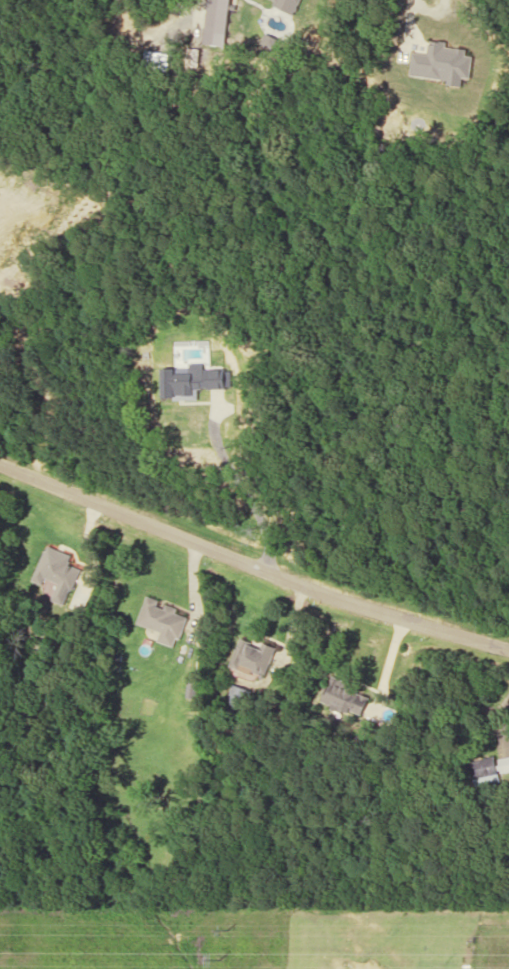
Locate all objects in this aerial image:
building: (287, 5)
building: (216, 22)
building: (442, 63)
building: (192, 380)
road: (251, 565)
building: (57, 572)
building: (162, 620)
building: (253, 656)
building: (238, 695)
building: (347, 696)
building: (508, 759)
power tower: (225, 930)
power tower: (216, 960)

